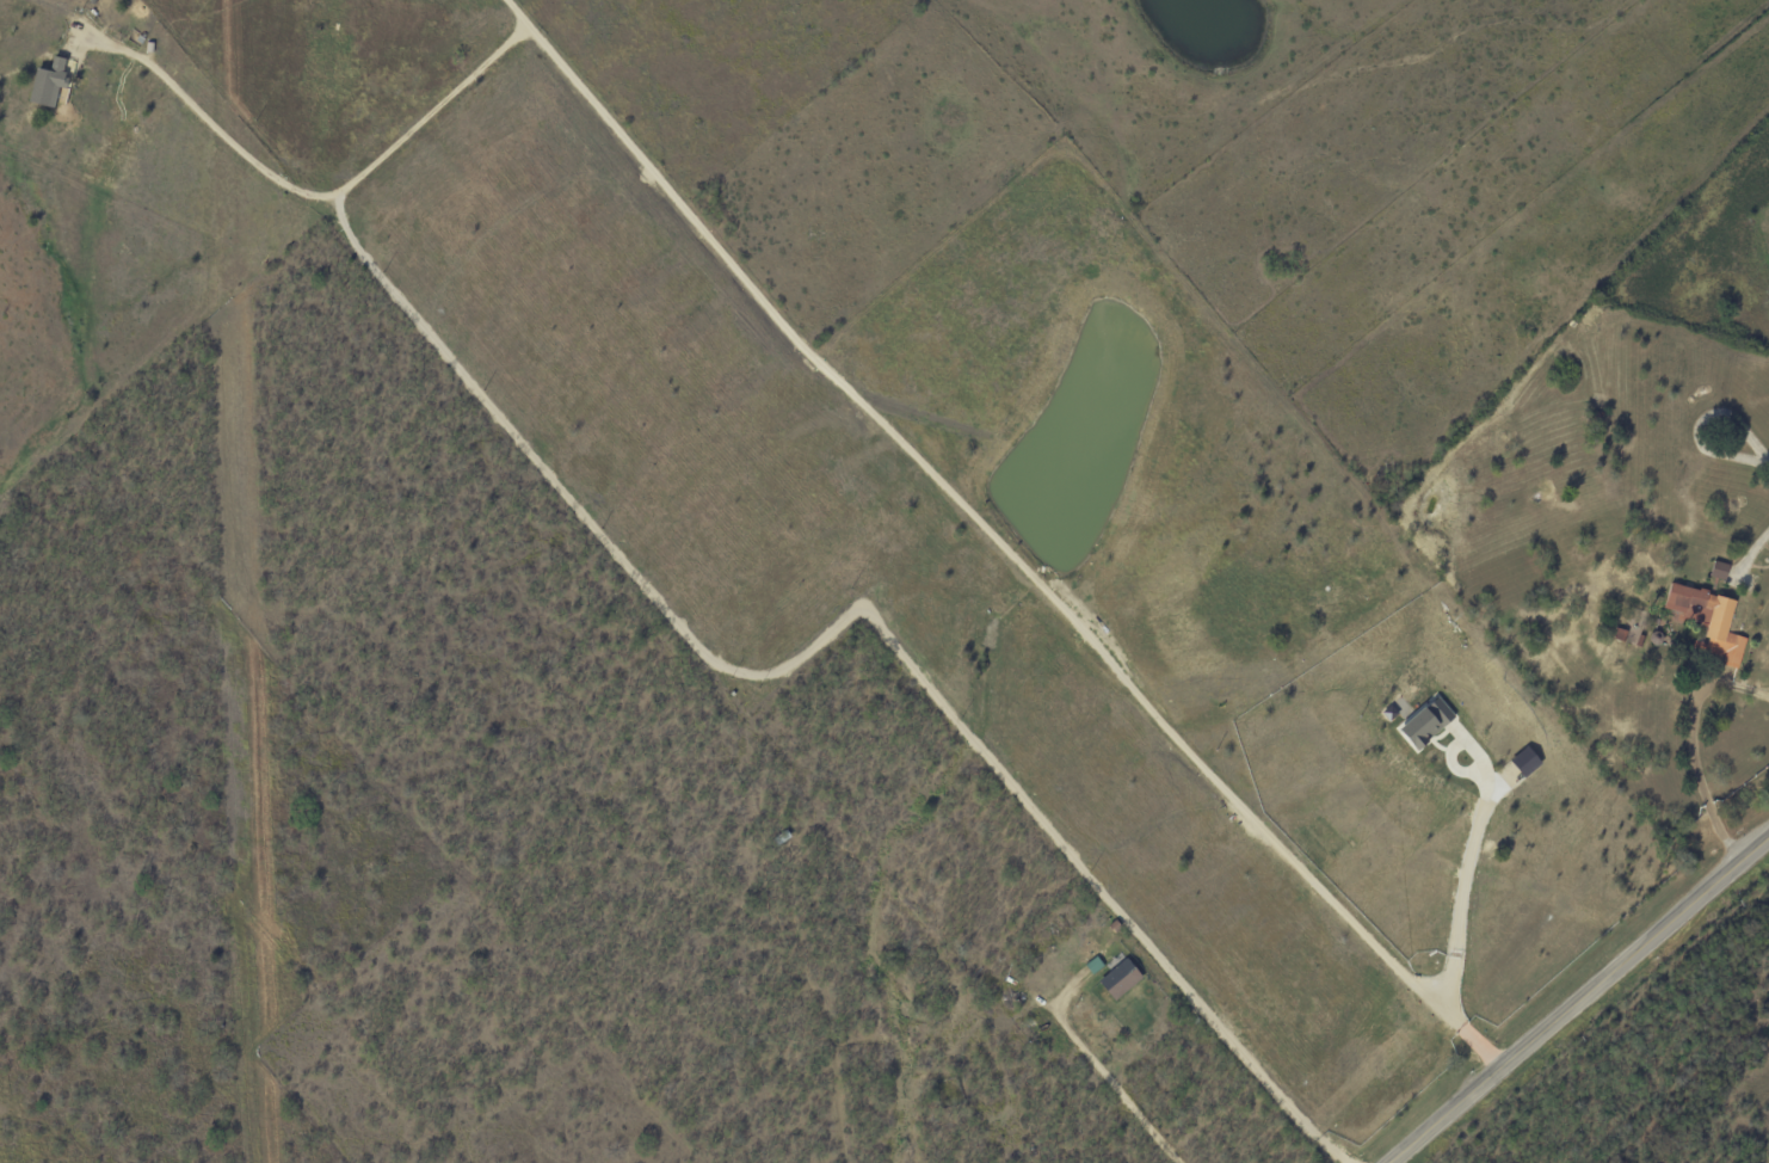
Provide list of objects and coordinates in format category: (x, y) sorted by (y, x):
building: (45, 84)
road: (302, 199)
road: (985, 543)
building: (1719, 568)
building: (1708, 619)
building: (1425, 721)
road: (1699, 777)
building: (1120, 978)
road: (1578, 999)
road: (1115, 1087)

